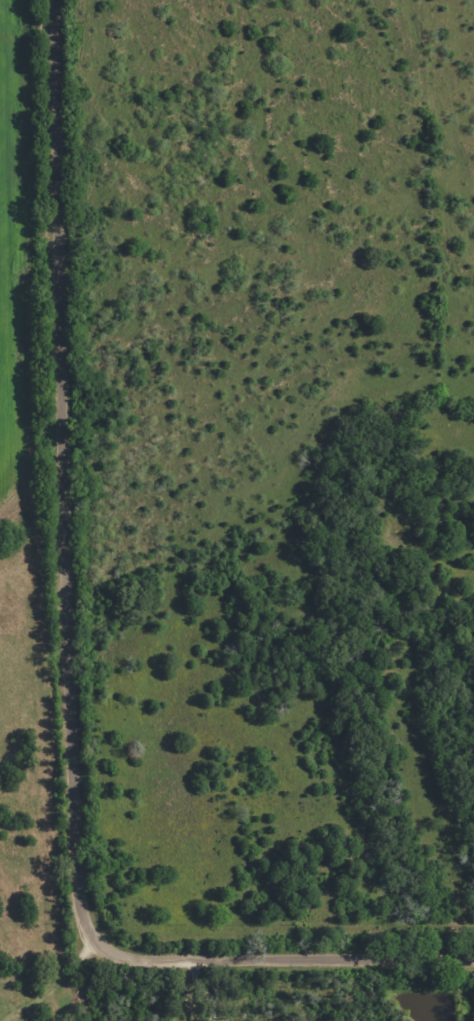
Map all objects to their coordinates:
road: (66, 656)

